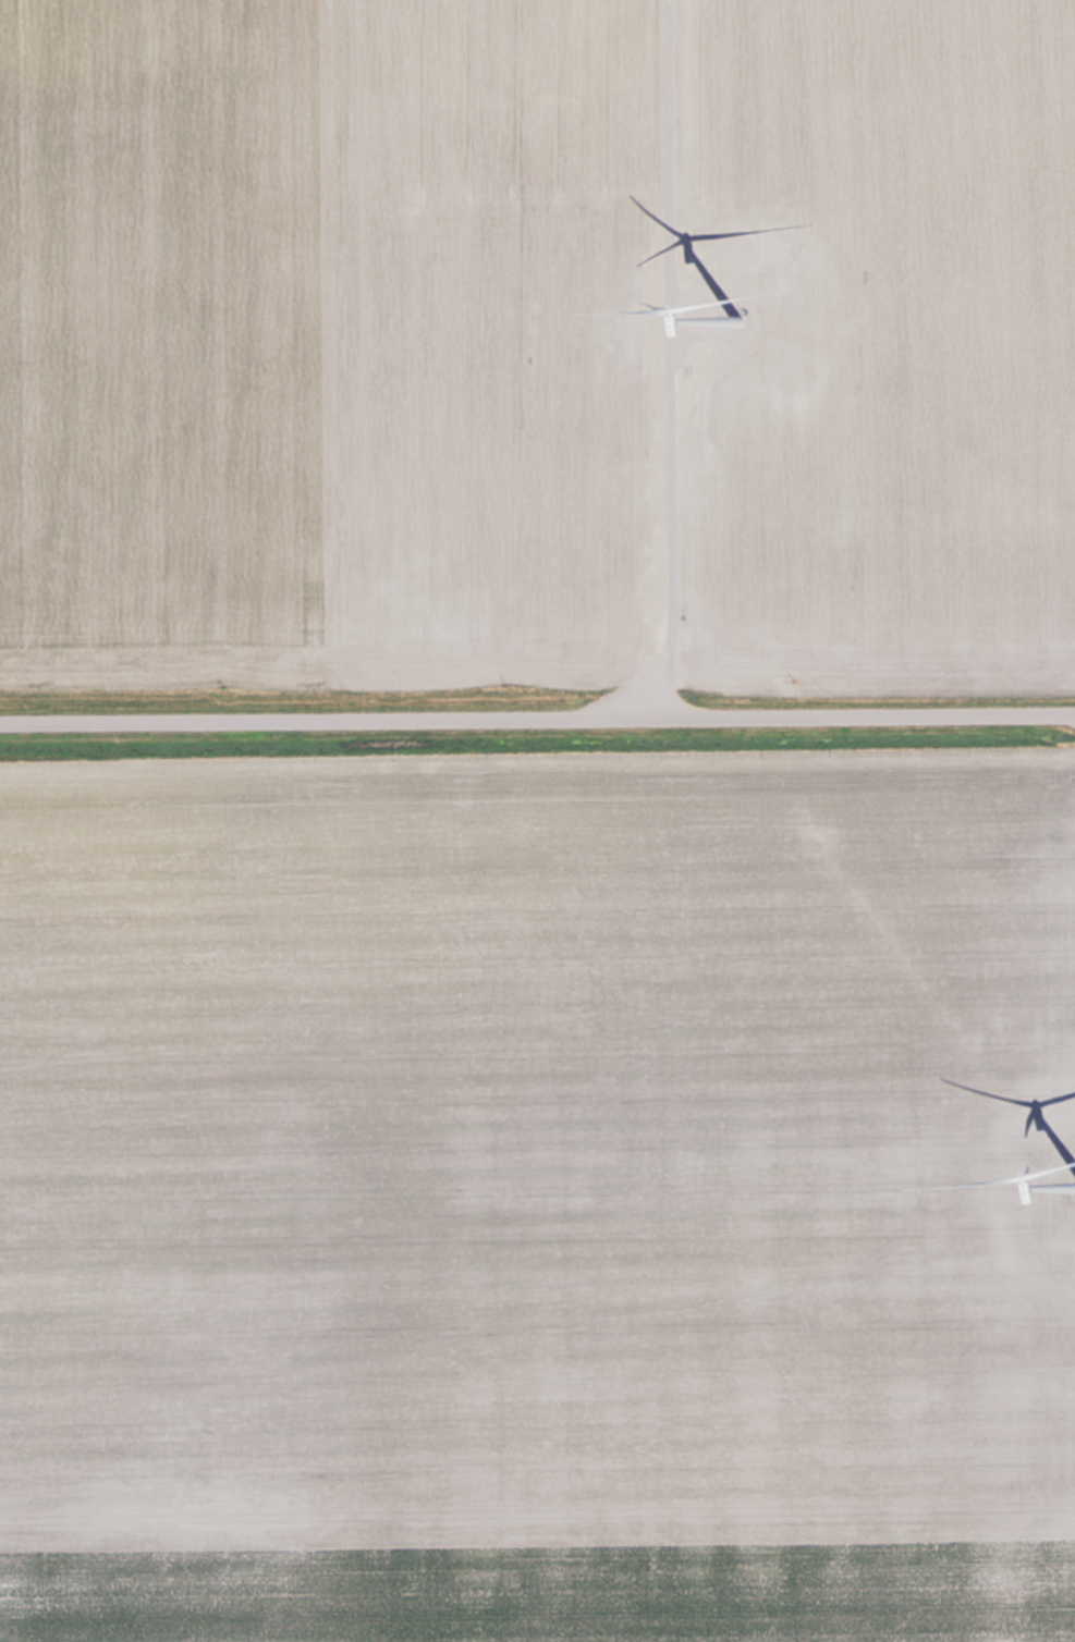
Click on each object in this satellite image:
wind turbine: (730, 313)
road: (671, 357)
road: (537, 716)
wind turbine: (1063, 1188)

